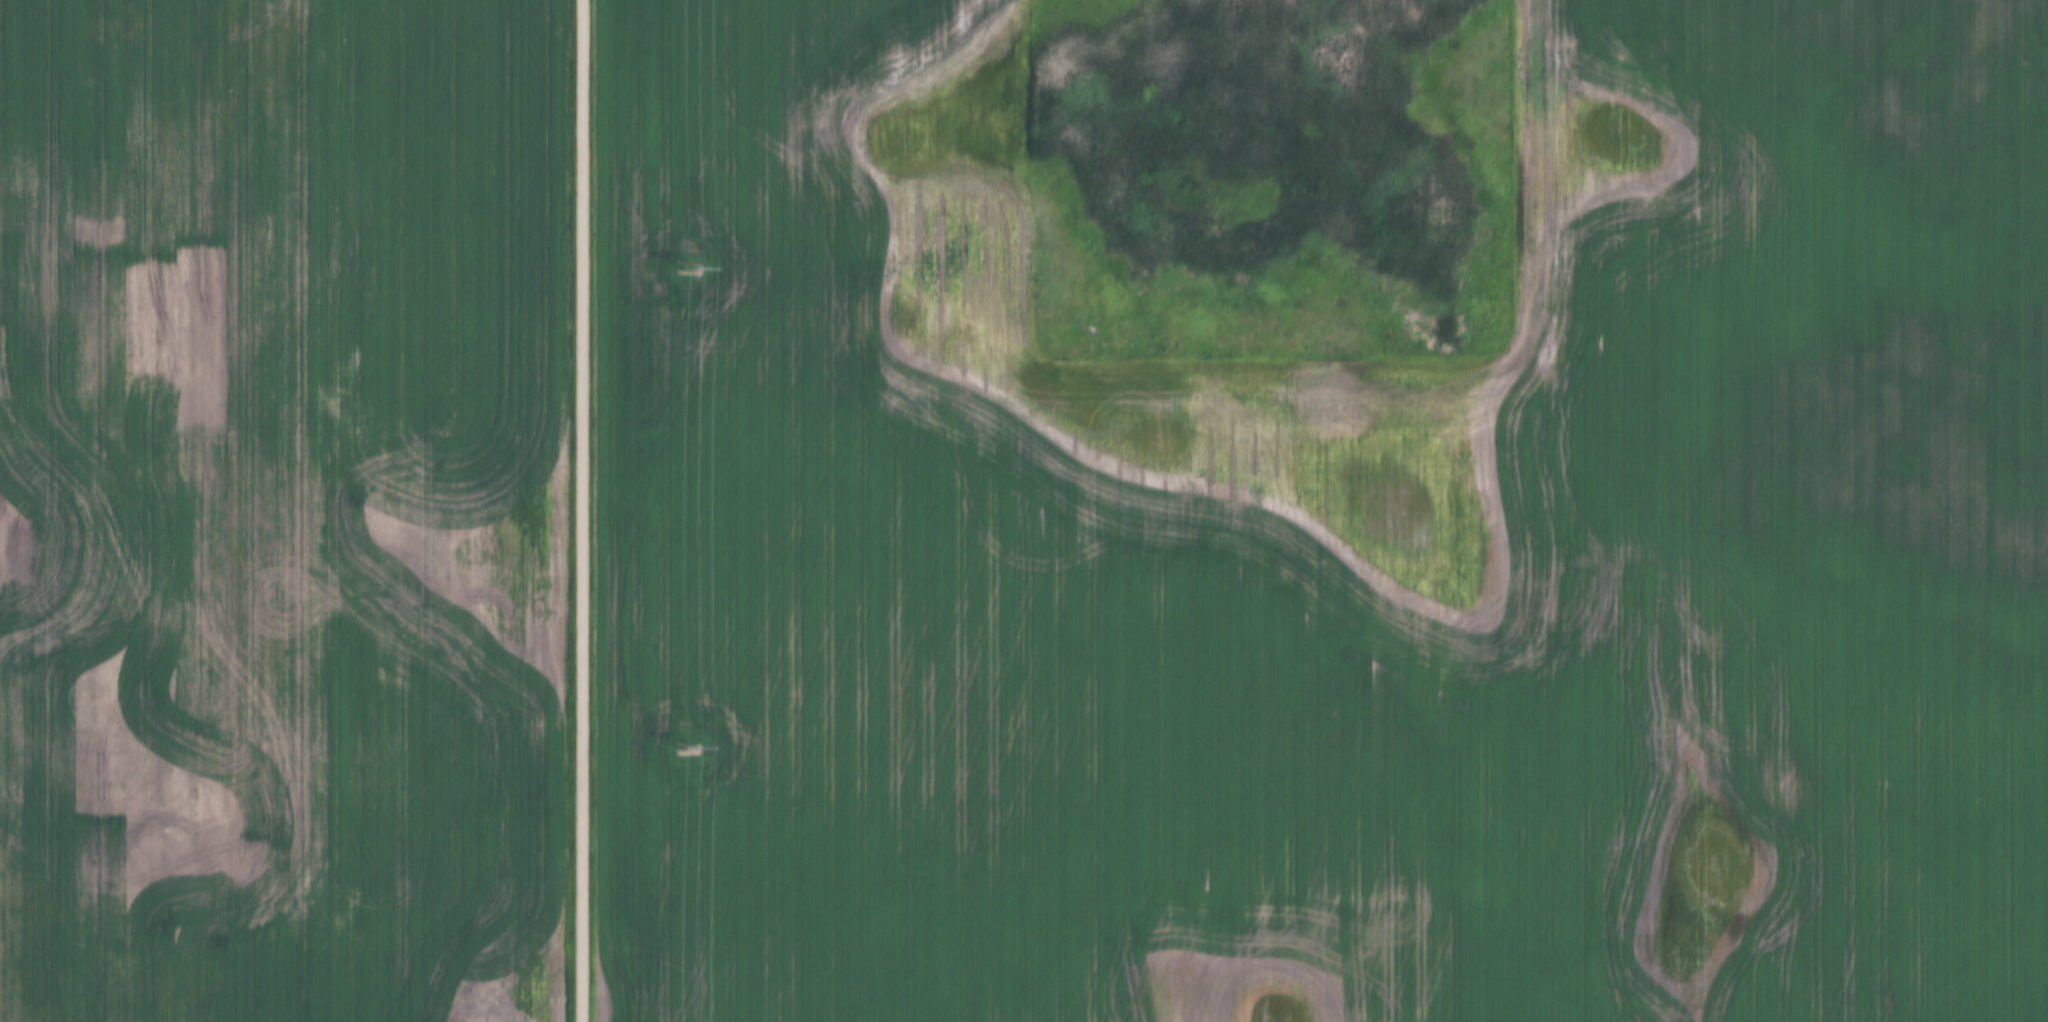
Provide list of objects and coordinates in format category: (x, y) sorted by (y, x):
power tower: (688, 271)
road: (584, 510)
power tower: (685, 752)

